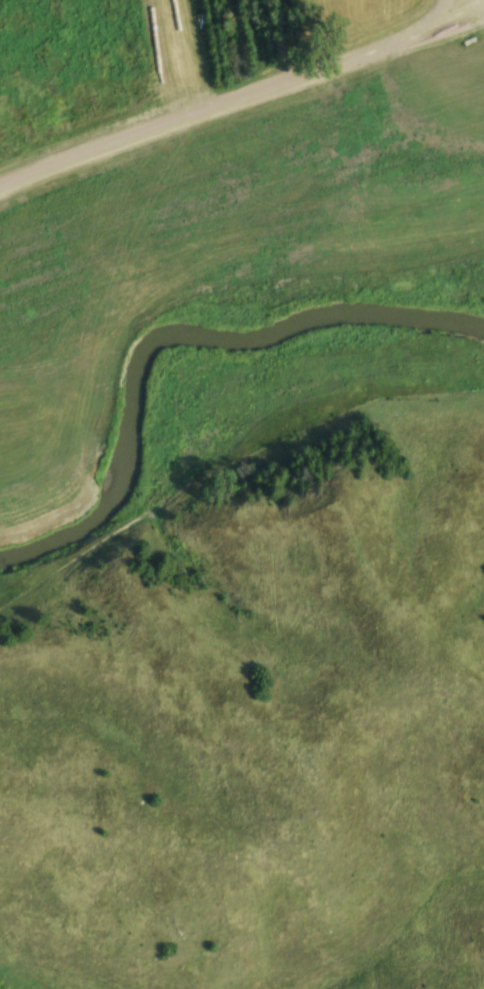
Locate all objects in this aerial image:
road: (437, 22)
road: (213, 110)
river: (171, 332)

